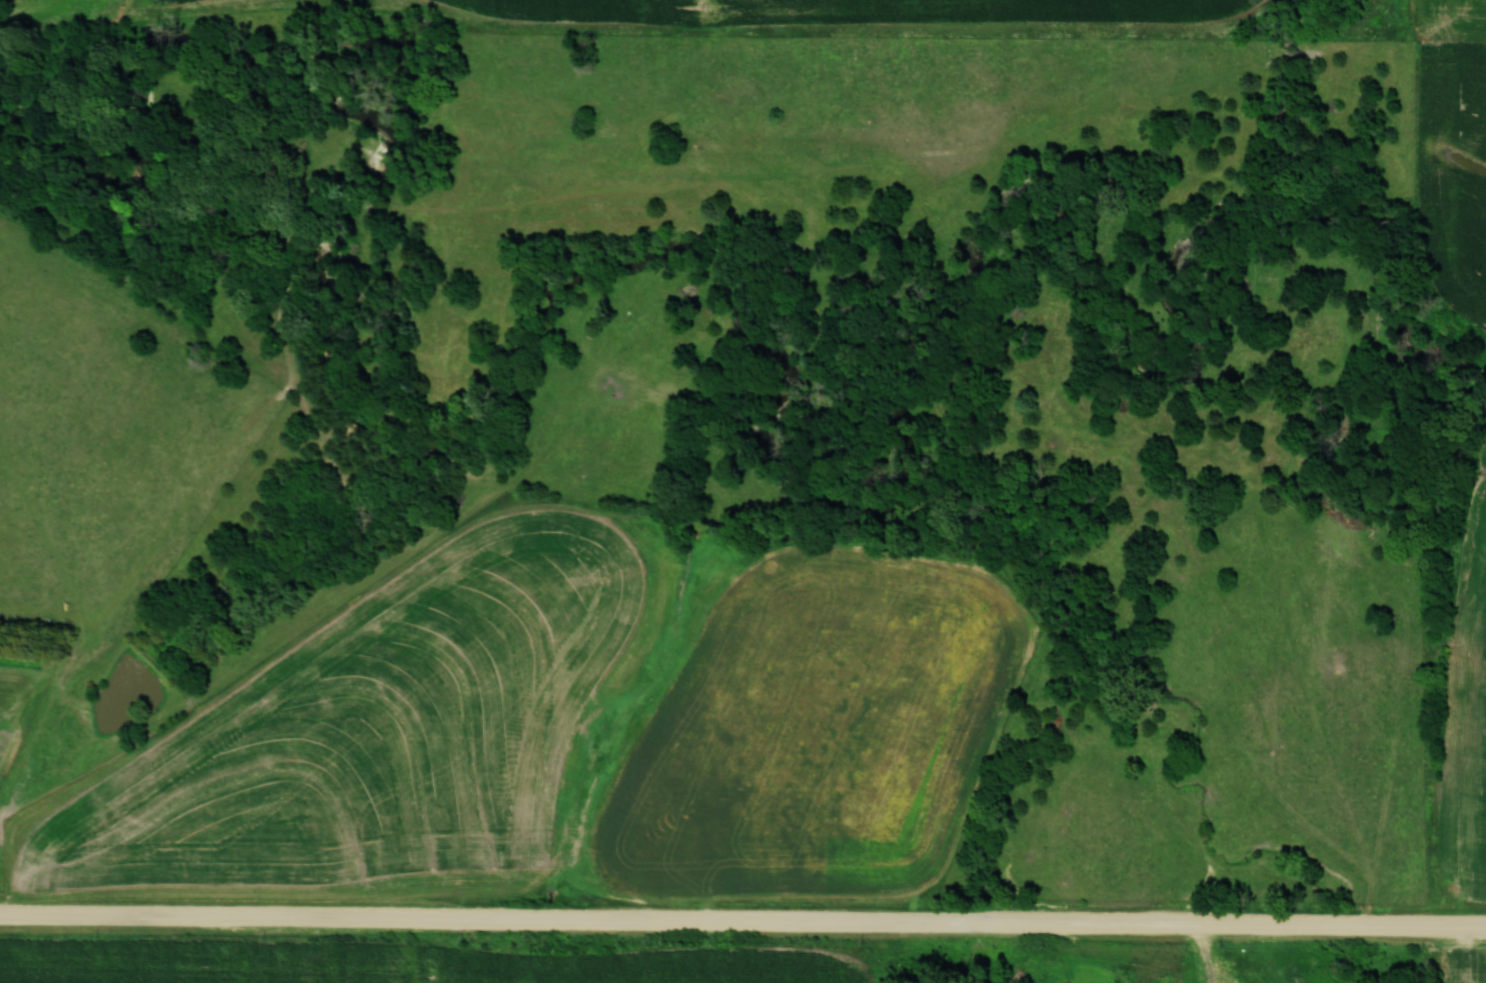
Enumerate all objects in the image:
road: (743, 924)

